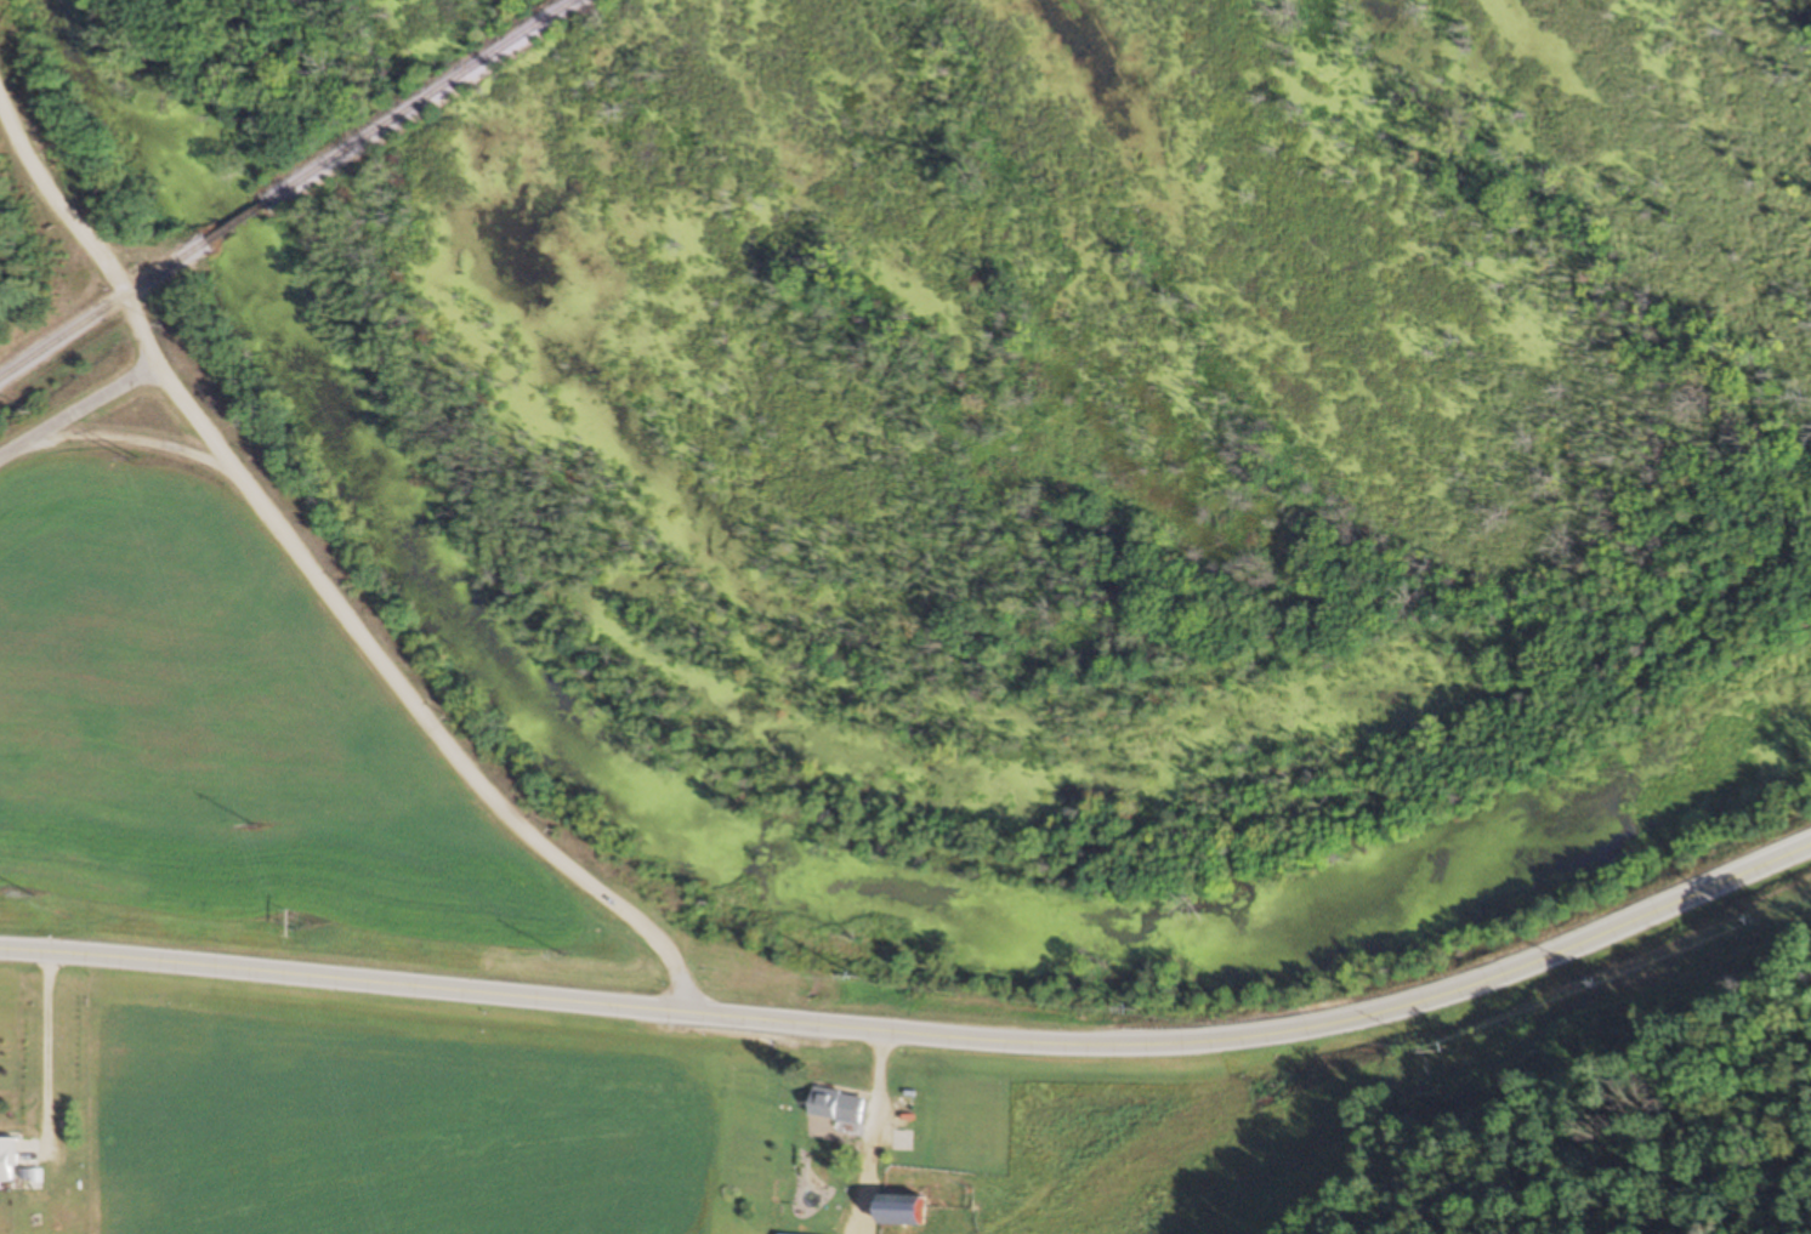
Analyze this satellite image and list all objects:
railway: (421, 102)
railway: (239, 222)
railway: (104, 309)
road: (79, 411)
road: (136, 437)
power tower: (141, 457)
road: (319, 570)
crop: (234, 741)
road: (1577, 944)
road: (668, 1010)
building: (835, 1105)
crop: (437, 1121)
road: (875, 1132)
crop: (1174, 1144)
building: (8, 1159)

